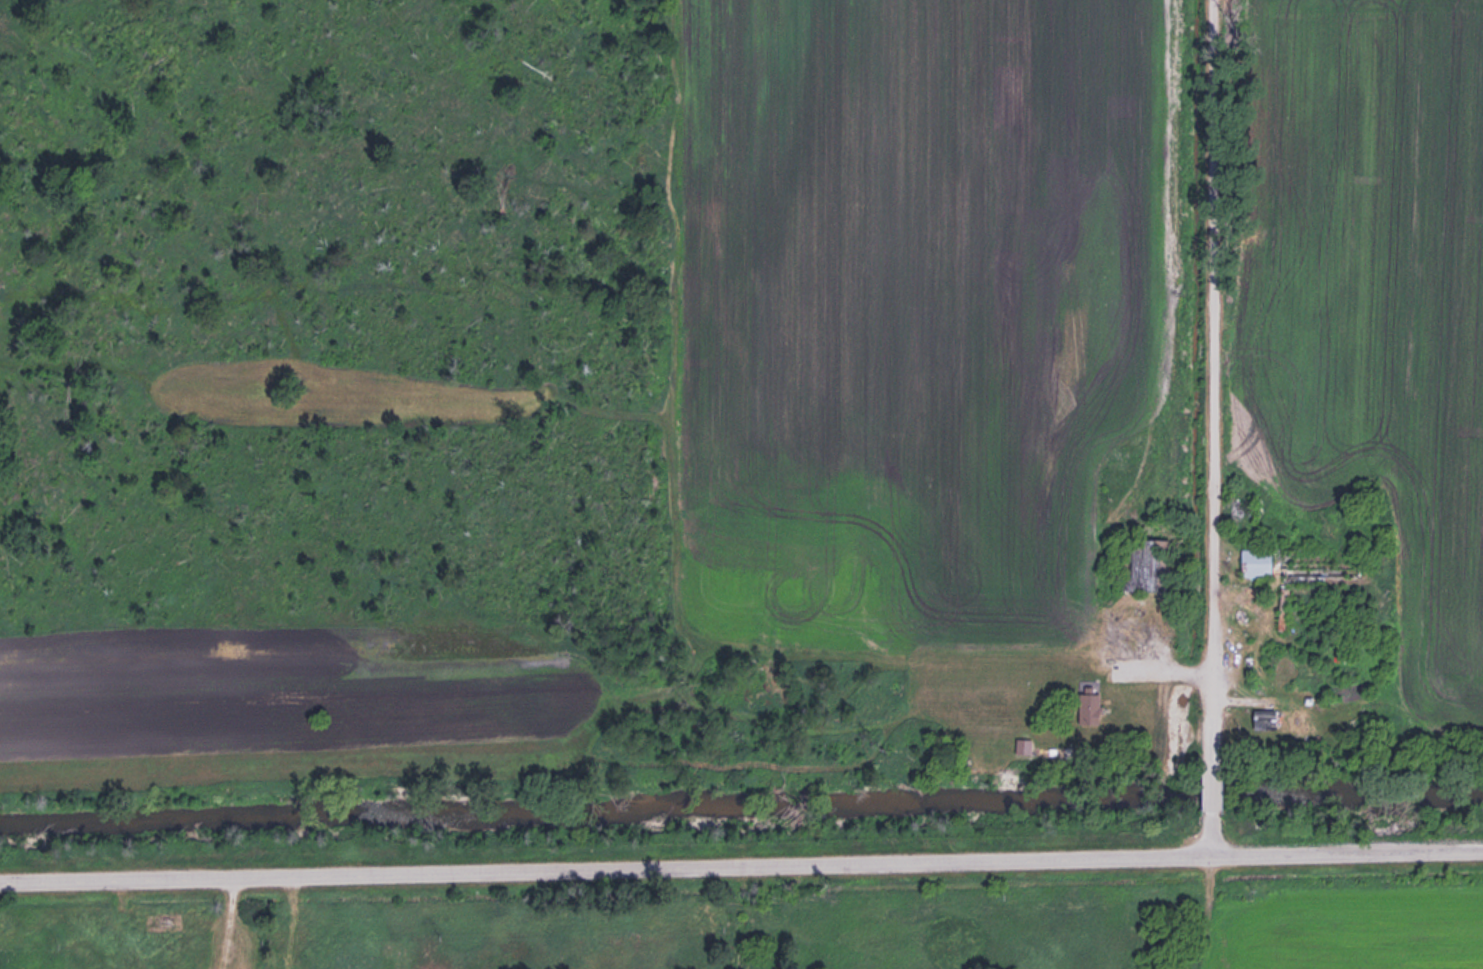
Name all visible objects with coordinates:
road: (1210, 375)
building: (1283, 561)
building: (1281, 606)
building: (1087, 706)
building: (1263, 718)
road: (1209, 780)
river: (741, 808)
road: (1210, 833)
road: (741, 867)

